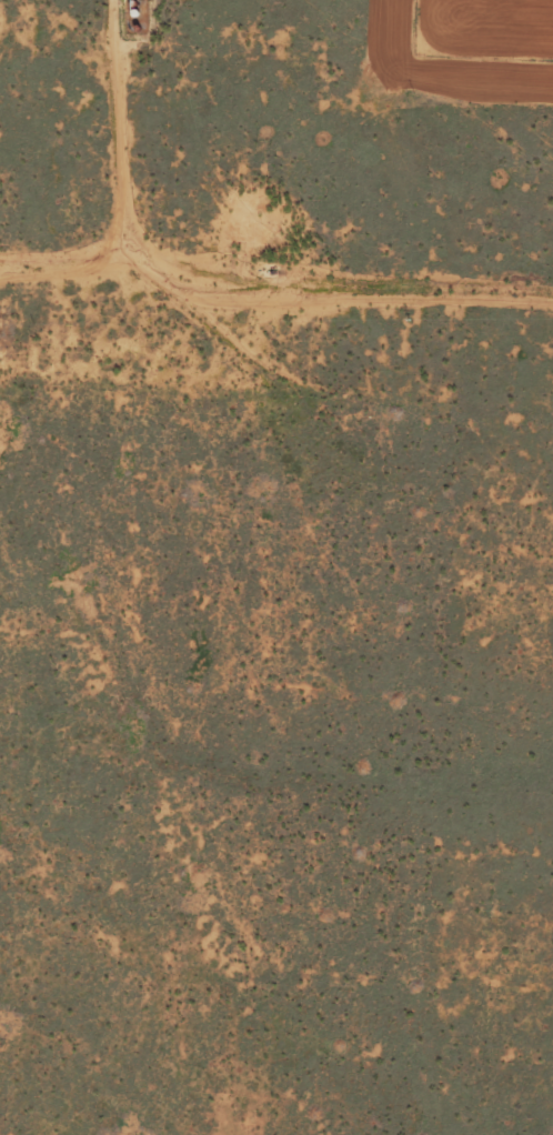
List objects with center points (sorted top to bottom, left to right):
road: (123, 134)

